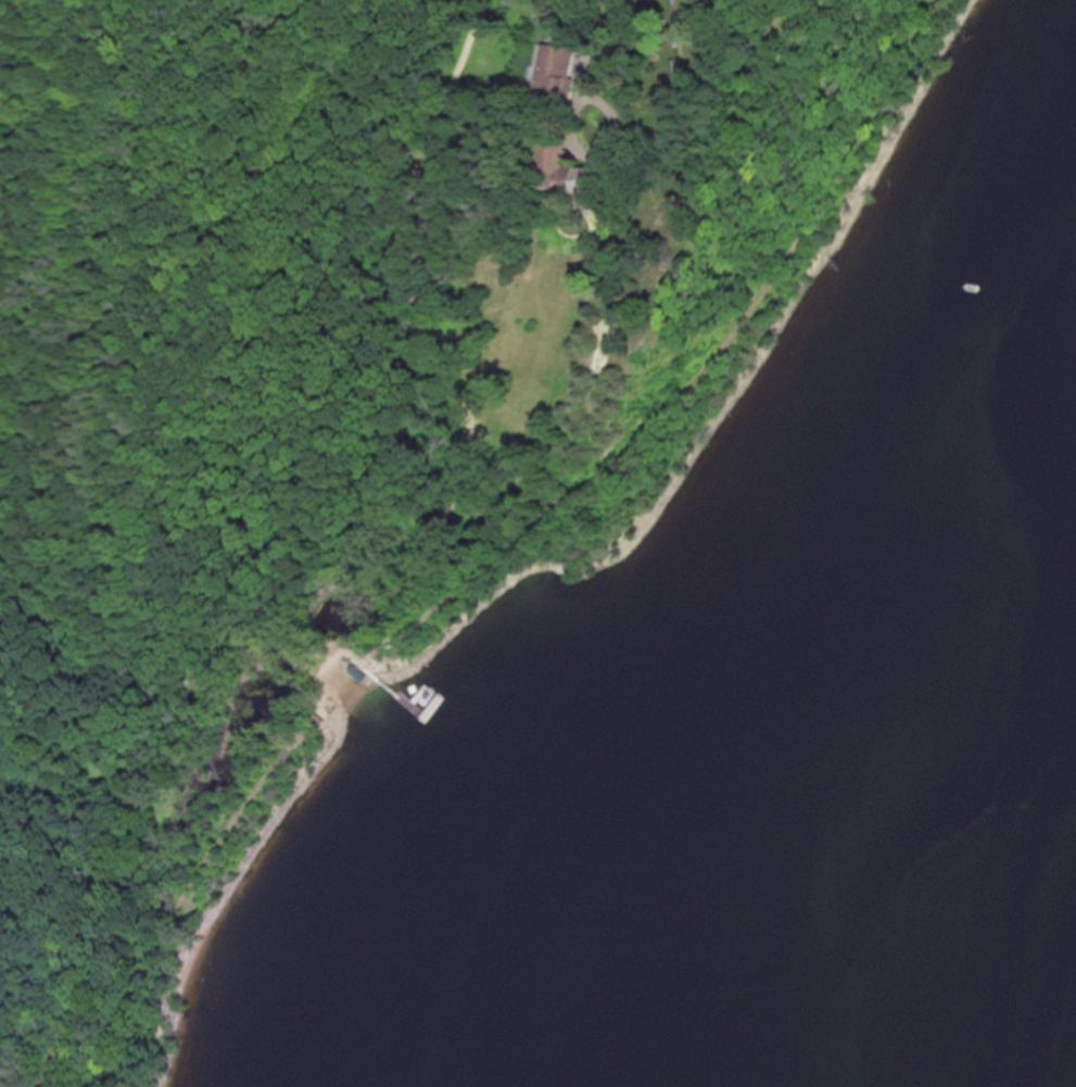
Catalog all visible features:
road: (586, 16)
building: (556, 72)
building: (564, 172)

